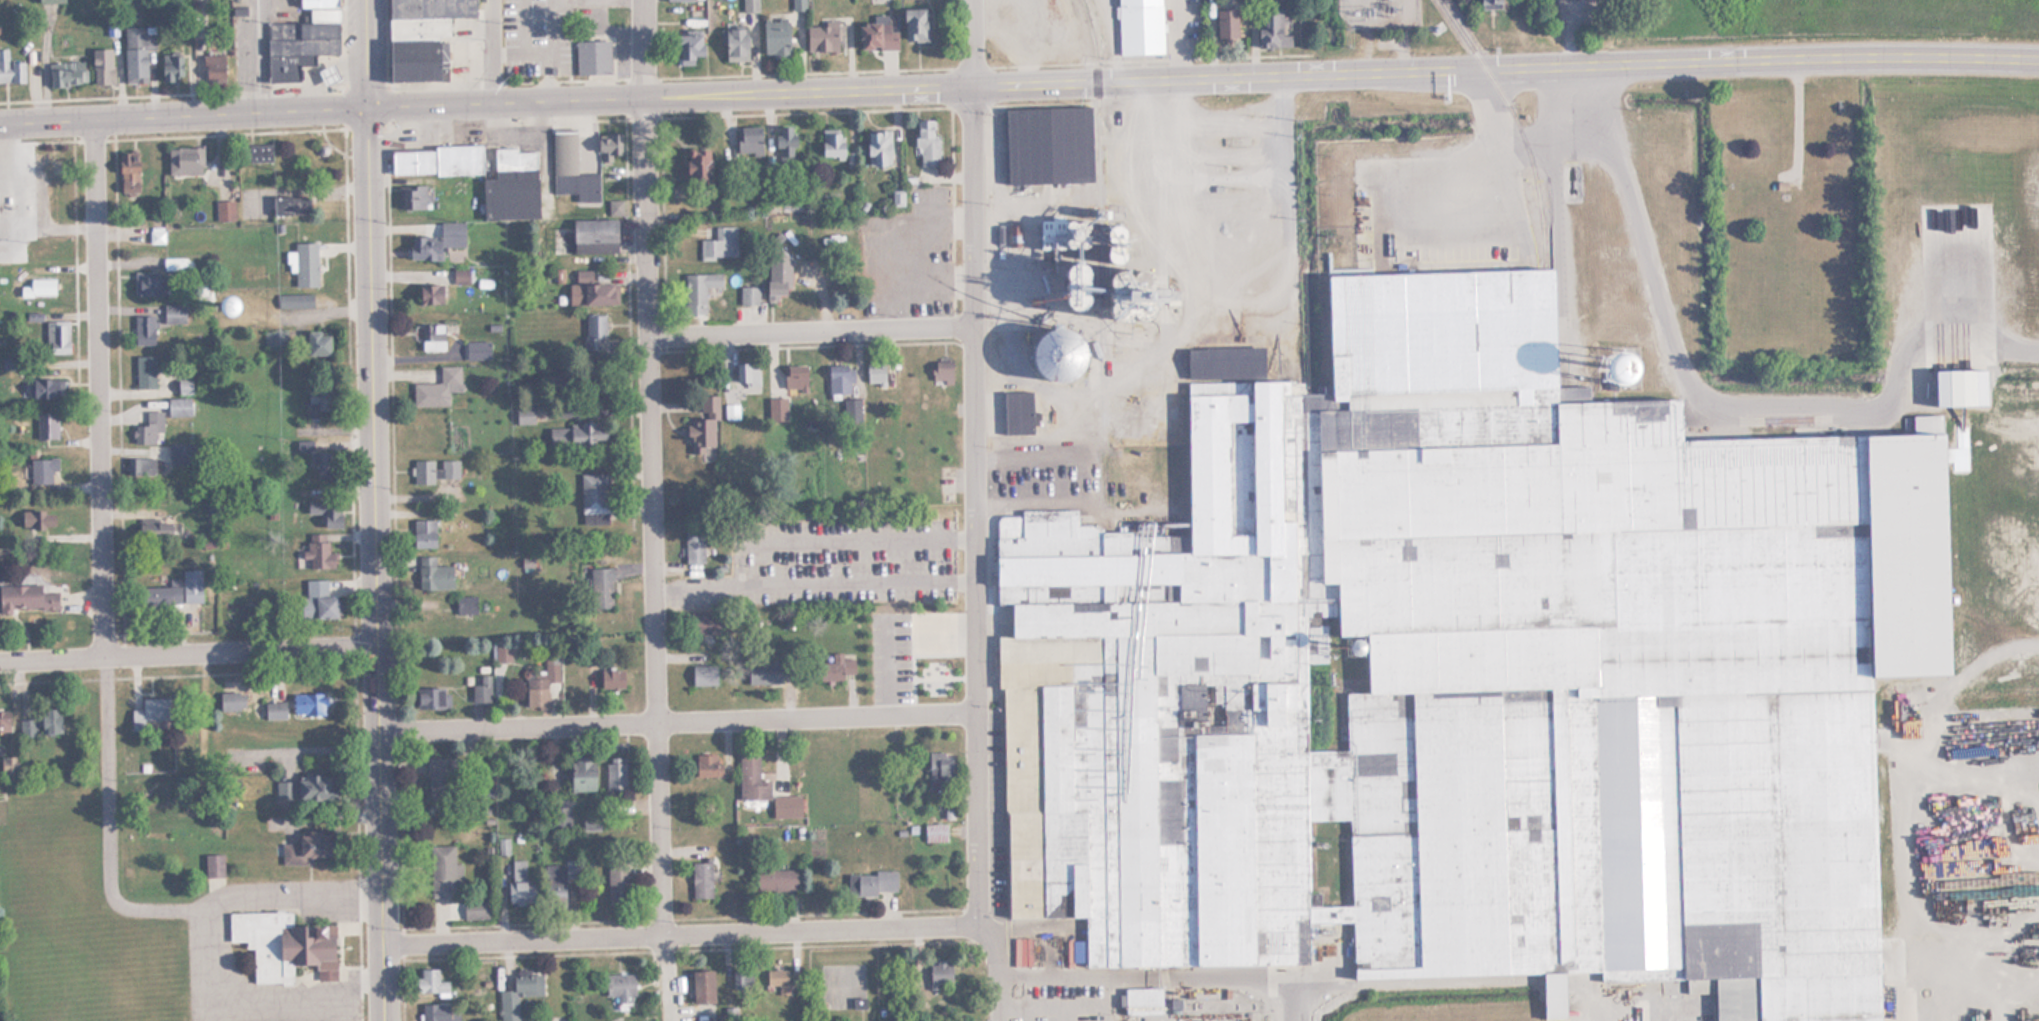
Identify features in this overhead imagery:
building: (678, 0)
building: (49, 1)
building: (317, 3)
building: (798, 5)
building: (1489, 5)
building: (750, 6)
building: (1364, 11)
building: (323, 13)
building: (1226, 24)
building: (914, 25)
building: (1139, 27)
building: (302, 29)
building: (1270, 30)
building: (875, 35)
building: (421, 37)
building: (774, 38)
building: (821, 38)
road: (973, 42)
building: (733, 45)
building: (302, 46)
building: (688, 48)
road: (494, 50)
building: (136, 52)
road: (366, 53)
road: (259, 55)
building: (592, 57)
building: (213, 65)
building: (101, 66)
building: (287, 66)
building: (171, 67)
building: (10, 69)
building: (66, 74)
building: (327, 74)
road: (1202, 77)
road: (658, 78)
traffic signals: (367, 107)
road: (183, 115)
railway: (1508, 119)
road: (475, 123)
building: (926, 142)
building: (831, 143)
building: (749, 144)
building: (785, 144)
building: (607, 146)
building: (877, 147)
building: (1048, 148)
building: (259, 154)
building: (184, 161)
building: (437, 161)
building: (47, 166)
road: (645, 168)
building: (571, 169)
building: (697, 169)
building: (127, 175)
building: (511, 186)
building: (414, 196)
building: (290, 205)
building: (225, 211)
road: (668, 214)
building: (593, 231)
building: (156, 237)
building: (435, 241)
building: (719, 243)
railway: (1102, 250)
parking lot: (912, 255)
road: (82, 258)
building: (305, 264)
building: (558, 276)
building: (148, 283)
building: (777, 283)
building: (41, 287)
building: (1150, 289)
building: (596, 290)
building: (698, 291)
building: (428, 293)
building: (748, 295)
building: (294, 301)
building: (211, 304)
water tower: (212, 305)
building: (174, 314)
road: (636, 322)
building: (144, 330)
building: (595, 330)
road: (812, 331)
building: (57, 337)
building: (432, 337)
building: (275, 338)
building: (317, 344)
road: (820, 345)
building: (477, 350)
building: (1052, 353)
storage tank: (1052, 353)
building: (1224, 362)
building: (145, 372)
building: (747, 373)
building: (875, 374)
building: (941, 375)
building: (795, 380)
building: (840, 380)
building: (1958, 387)
building: (46, 388)
road: (100, 388)
building: (184, 388)
building: (437, 388)
road: (113, 393)
building: (318, 405)
building: (178, 407)
building: (851, 410)
building: (1017, 412)
building: (525, 414)
building: (1143, 421)
building: (46, 425)
building: (704, 427)
building: (148, 428)
building: (575, 434)
building: (181, 454)
building: (321, 463)
road: (649, 463)
building: (140, 467)
building: (435, 469)
building: (42, 471)
building: (1013, 480)
building: (594, 494)
road: (975, 506)
road: (358, 510)
road: (388, 510)
building: (327, 512)
building: (38, 519)
building: (163, 530)
building: (422, 534)
road: (843, 540)
building: (693, 546)
building: (317, 555)
building: (527, 562)
road: (376, 564)
building: (482, 570)
building: (433, 575)
building: (191, 585)
road: (813, 586)
building: (600, 588)
building: (26, 597)
building: (151, 597)
building: (318, 600)
building: (465, 605)
building: (704, 623)
road: (169, 632)
building: (502, 651)
road: (188, 654)
building: (934, 666)
building: (835, 668)
building: (763, 673)
road: (180, 675)
building: (703, 675)
building: (1471, 676)
building: (613, 678)
building: (481, 688)
building: (538, 689)
building: (430, 697)
road: (209, 701)
building: (231, 701)
building: (308, 703)
building: (274, 709)
building: (4, 722)
road: (678, 722)
building: (39, 723)
road: (306, 757)
road: (656, 765)
building: (707, 765)
building: (939, 771)
building: (615, 772)
building: (581, 773)
building: (437, 779)
building: (751, 779)
road: (1902, 786)
building: (320, 787)
road: (1974, 804)
building: (786, 806)
building: (561, 816)
building: (935, 833)
building: (307, 848)
building: (213, 866)
building: (443, 872)
building: (700, 880)
building: (776, 880)
building: (558, 882)
building: (520, 883)
building: (870, 883)
building: (617, 884)
road: (126, 907)
building: (474, 910)
road: (693, 918)
road: (683, 939)
building: (283, 946)
road: (700, 949)
road: (996, 970)
building: (940, 973)
building: (742, 979)
building: (777, 982)
building: (430, 983)
building: (619, 987)
building: (702, 987)
road: (1979, 988)
building: (518, 995)
road: (259, 1000)
building: (1142, 1001)
building: (438, 1012)

